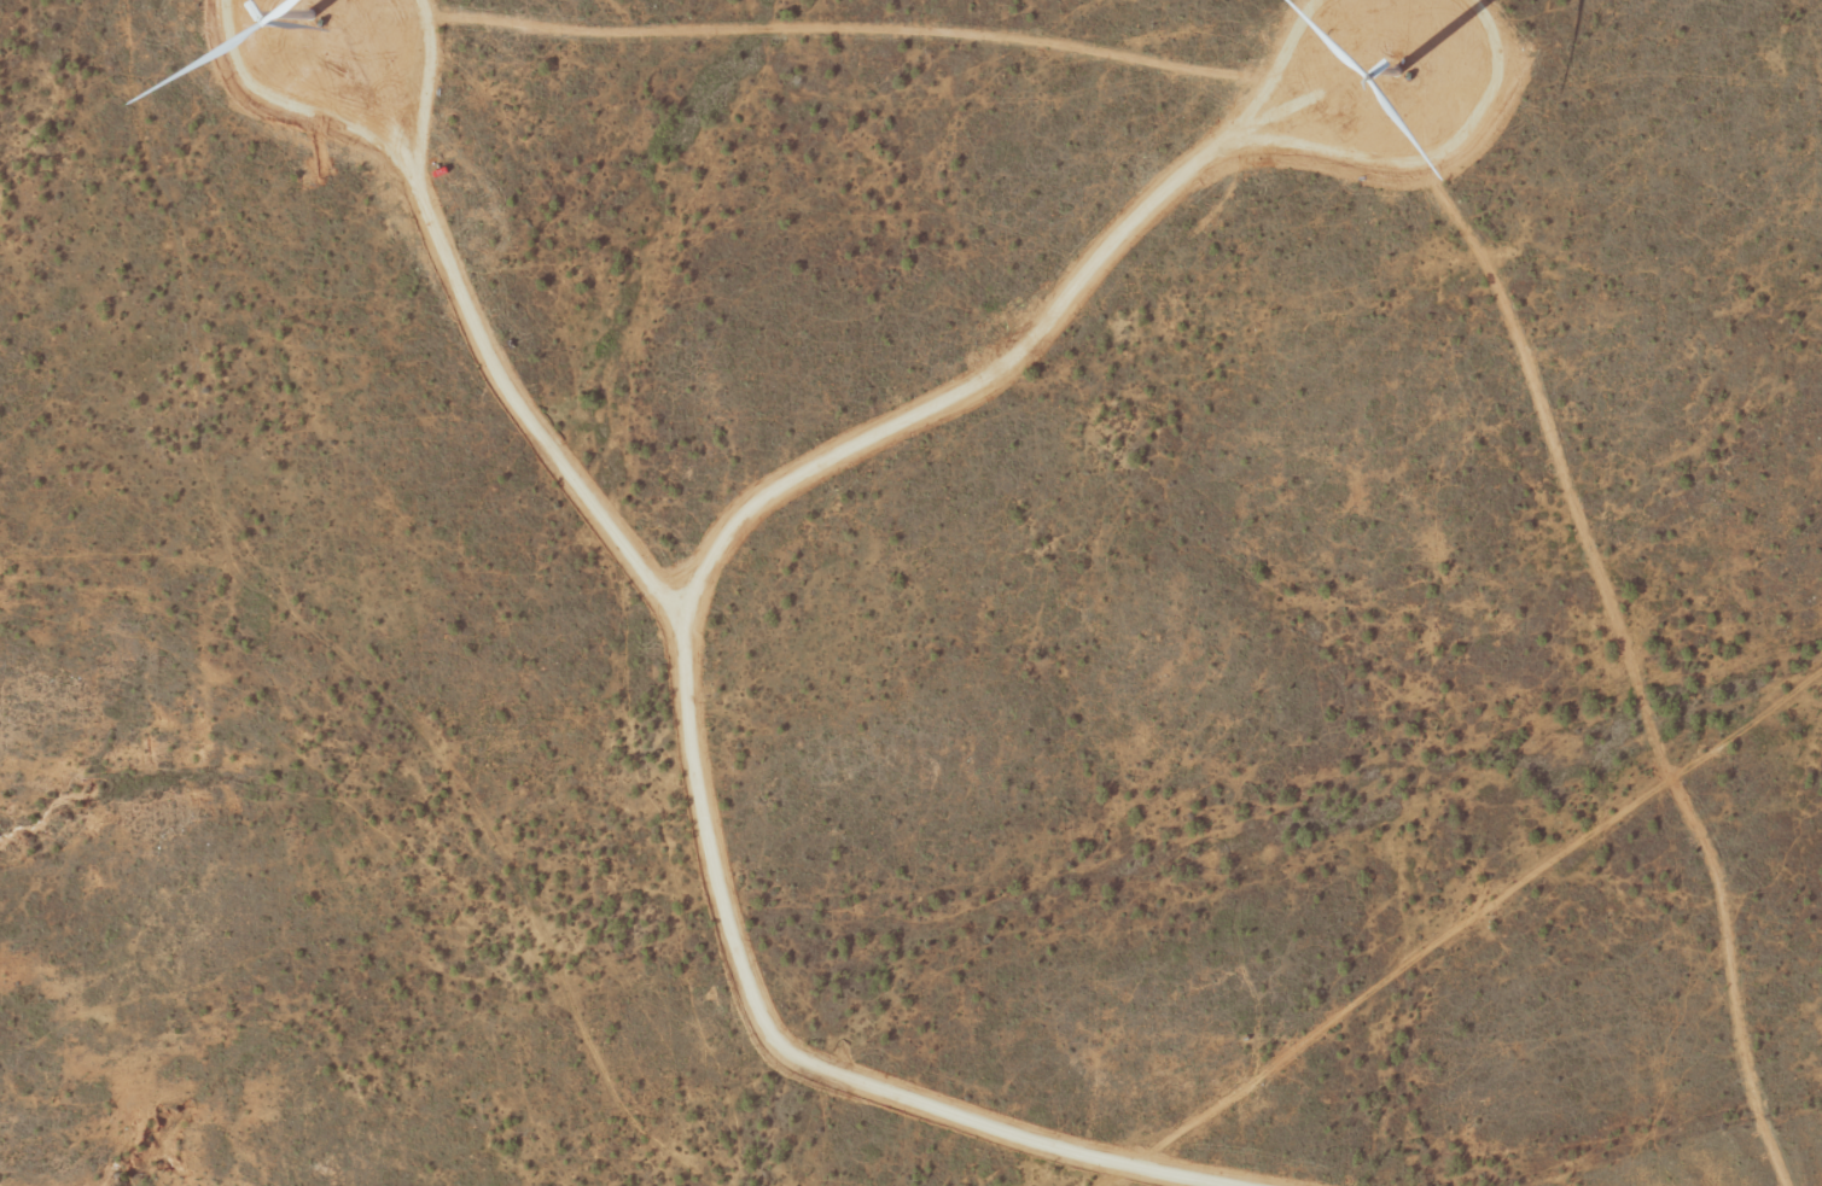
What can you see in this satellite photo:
wind turbine: (312, 18)
wind turbine: (1385, 66)

